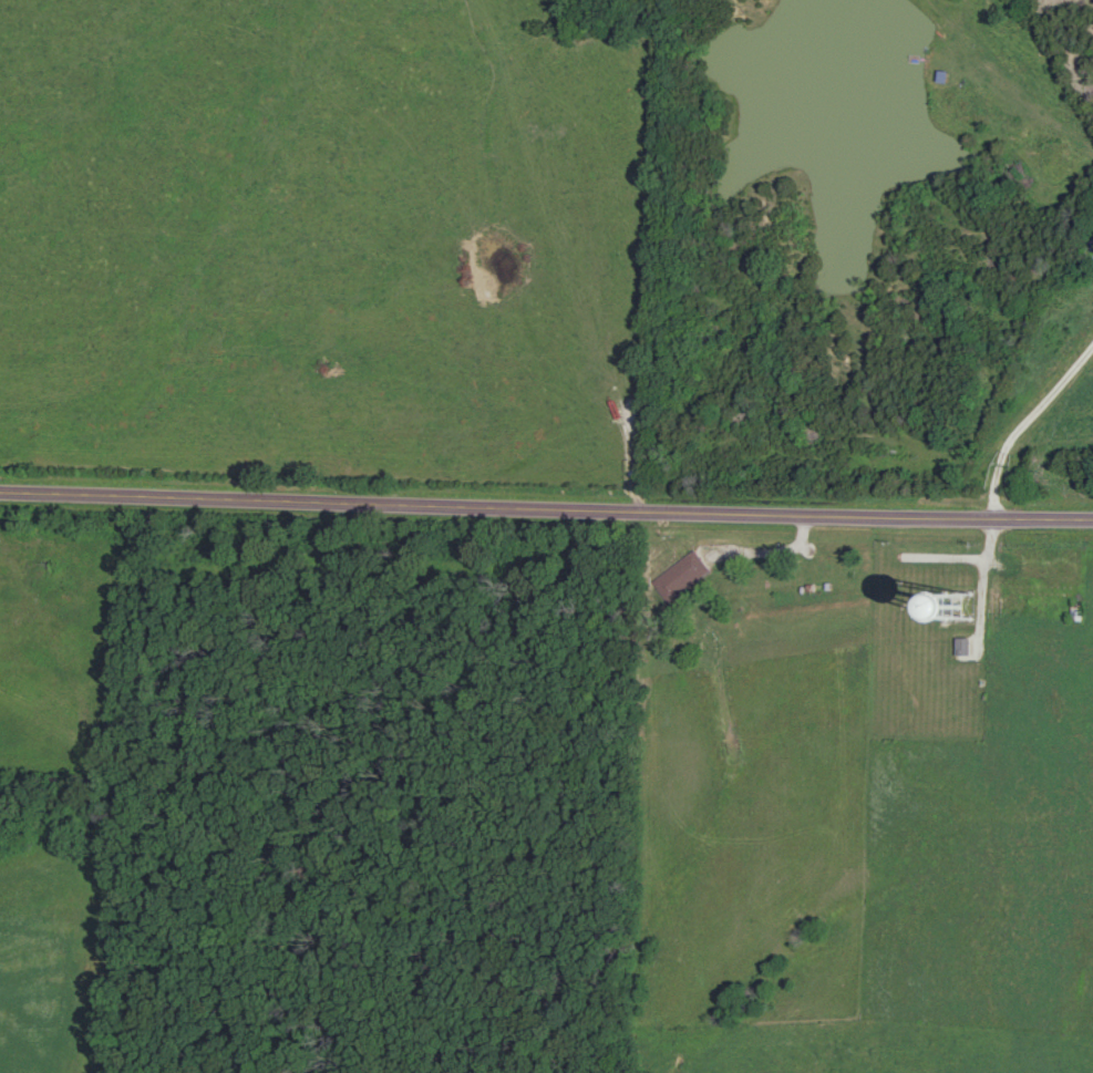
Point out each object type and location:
building: (1091, 243)
road: (1028, 427)
building: (879, 461)
road: (546, 508)
building: (680, 577)
building: (1048, 591)
building: (941, 609)
building: (962, 648)

